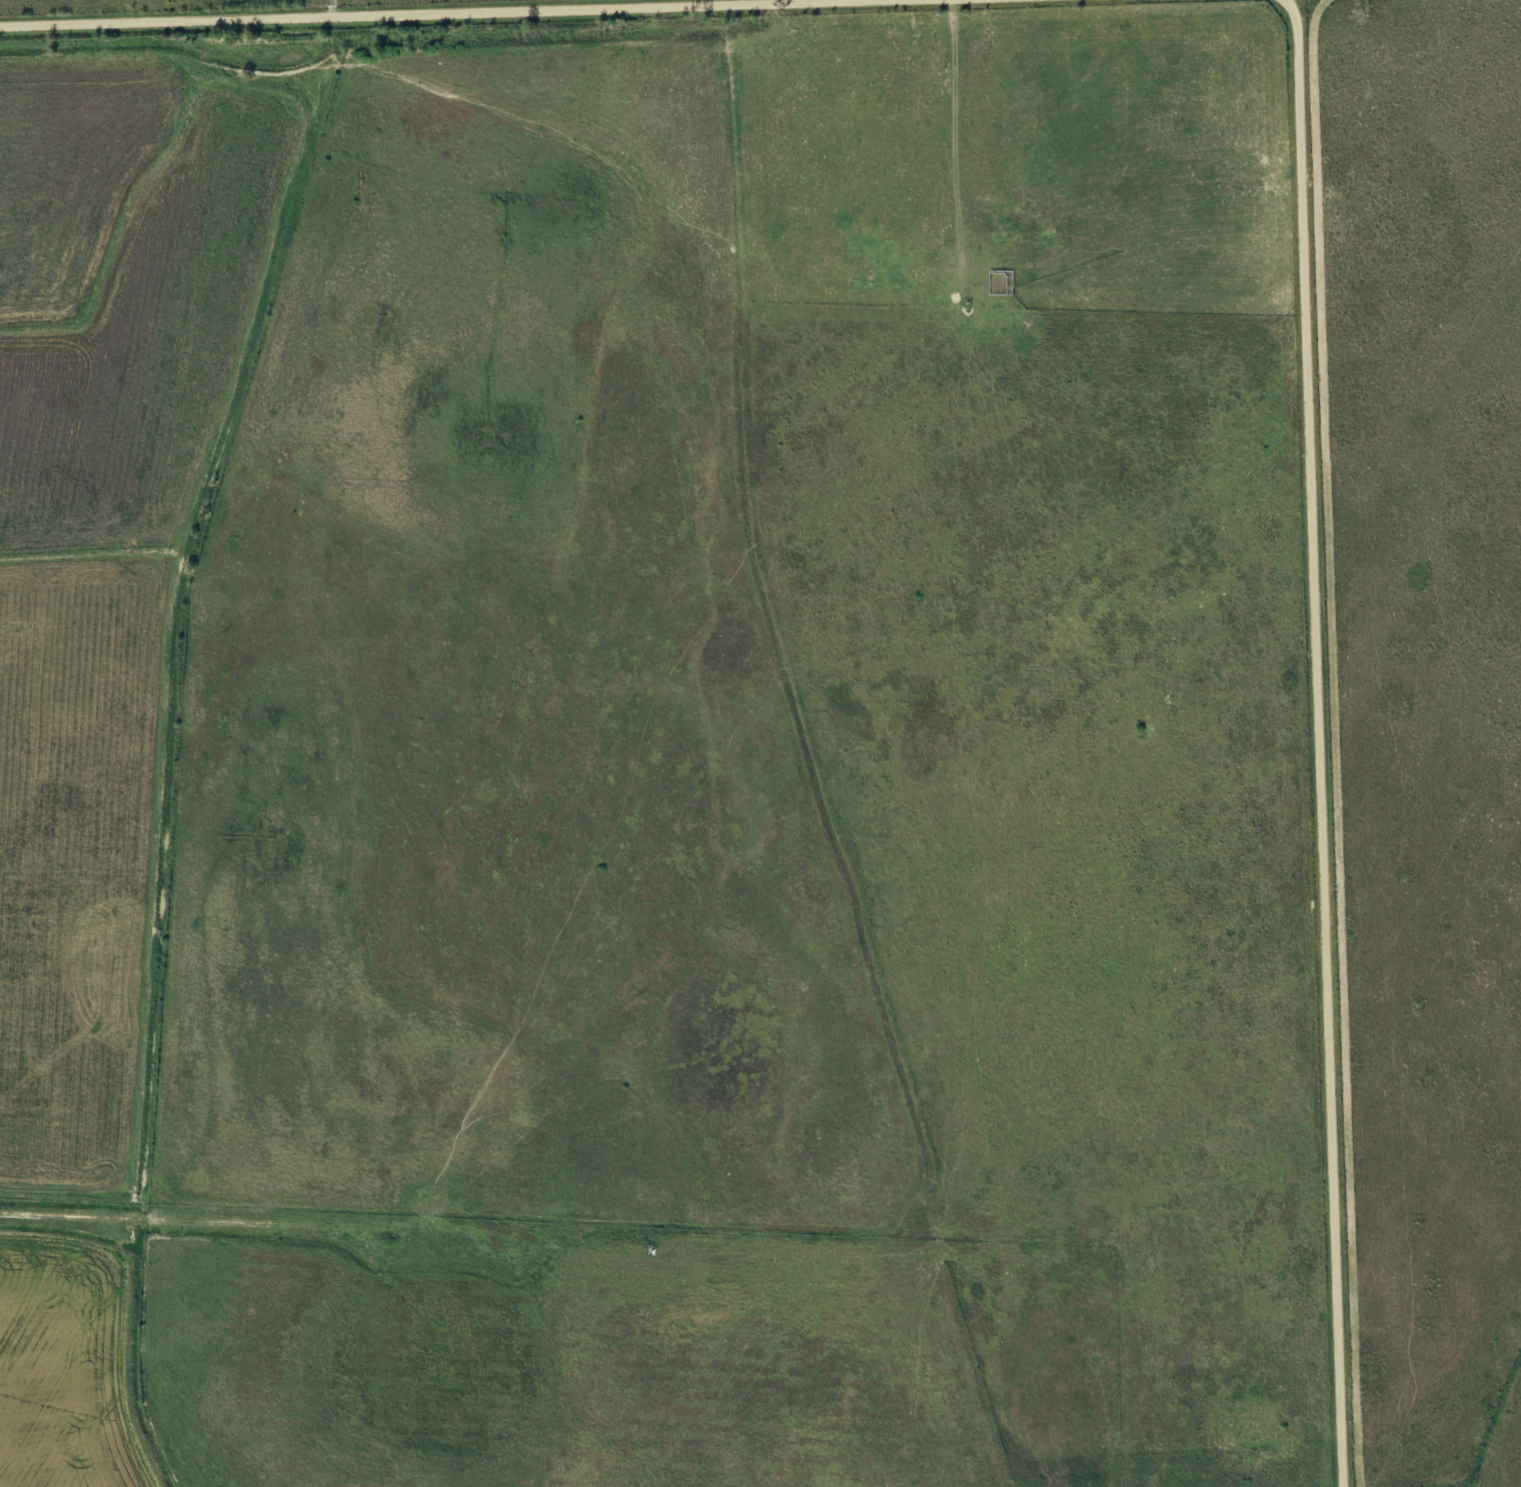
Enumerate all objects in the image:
road: (400, 12)
road: (1322, 742)

